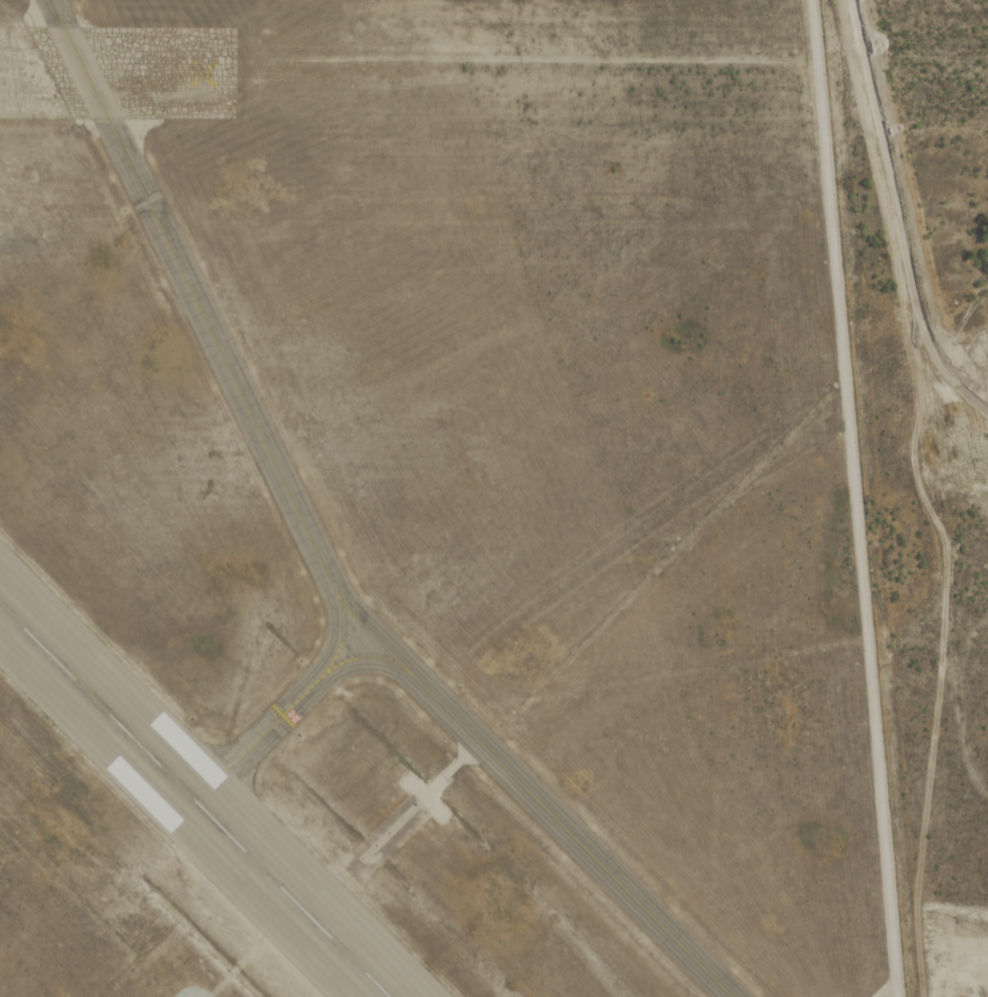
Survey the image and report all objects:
road: (852, 498)
airport: (430, 506)
airport taxiway: (317, 550)
airport taxiway: (283, 718)
airport runway: (194, 801)

